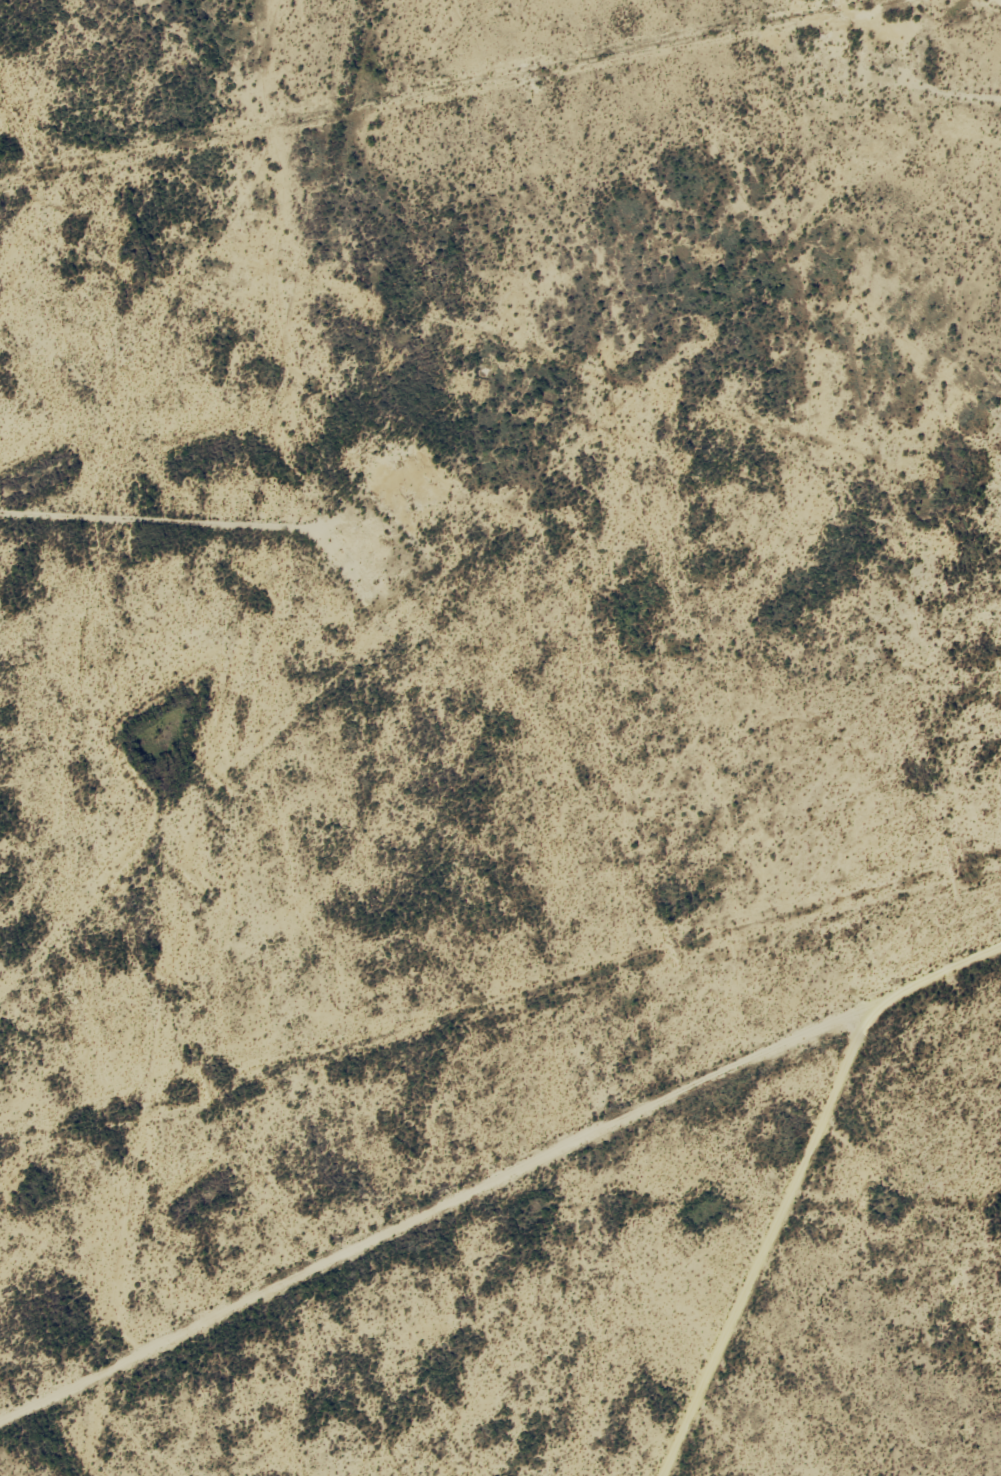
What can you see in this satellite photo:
road: (495, 1188)

